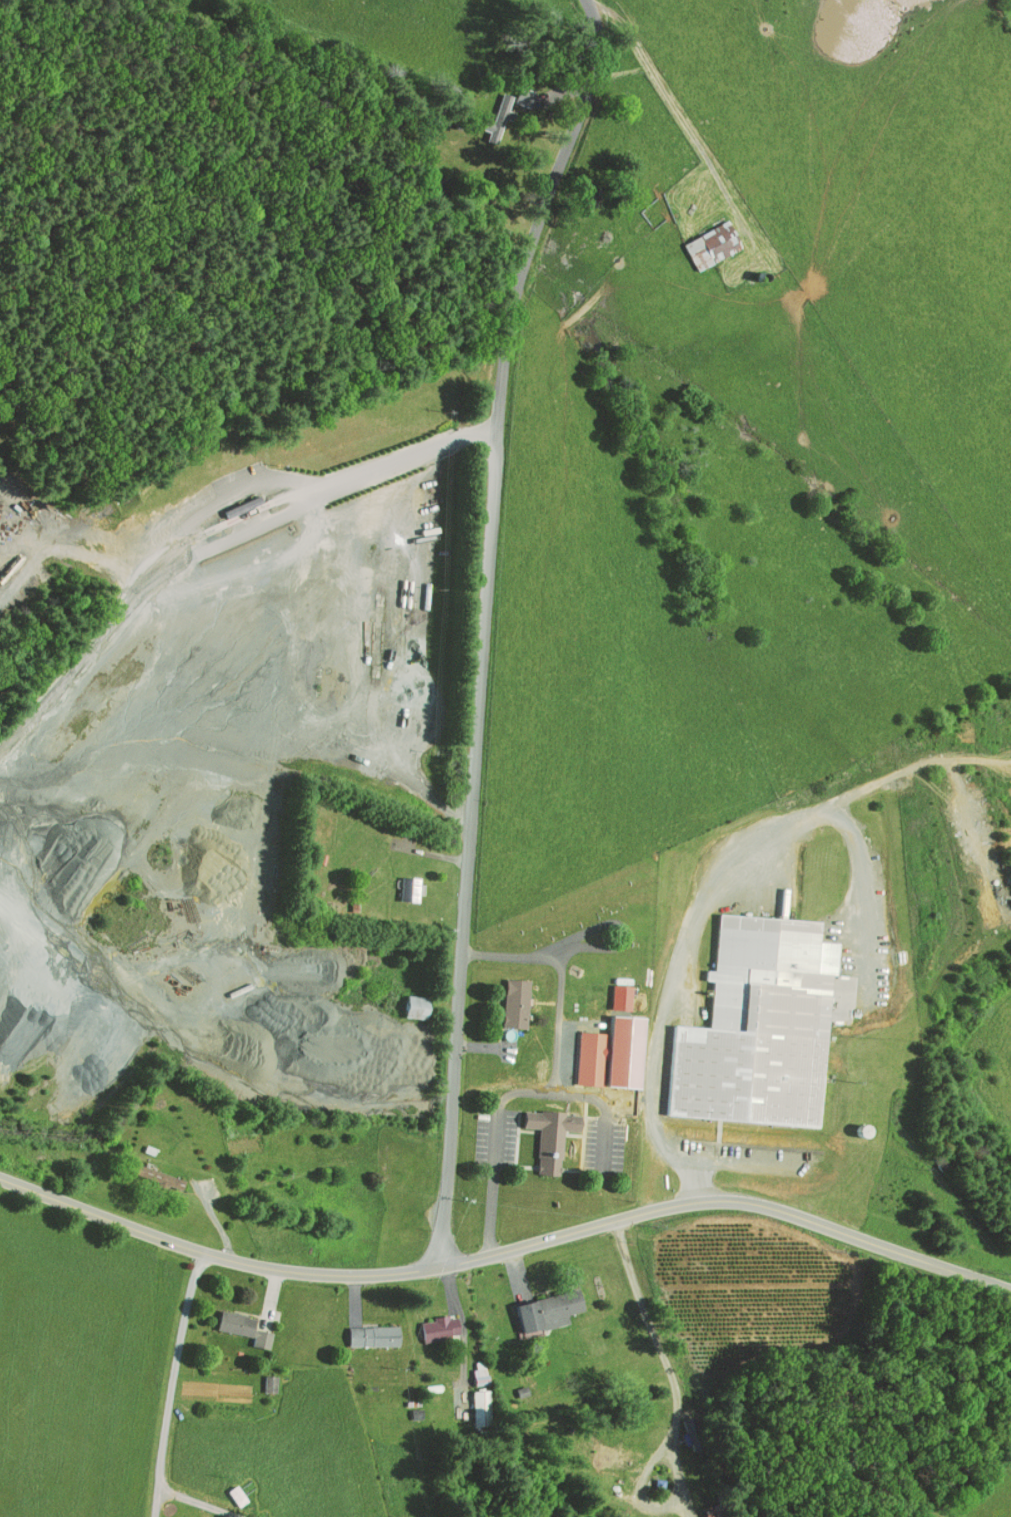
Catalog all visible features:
road: (669, 101)
road: (186, 569)
road: (417, 620)
road: (484, 625)
quarry: (229, 752)
road: (717, 894)
road: (555, 1080)
road: (506, 1252)
road: (279, 1321)
road: (668, 1367)
road: (173, 1384)

